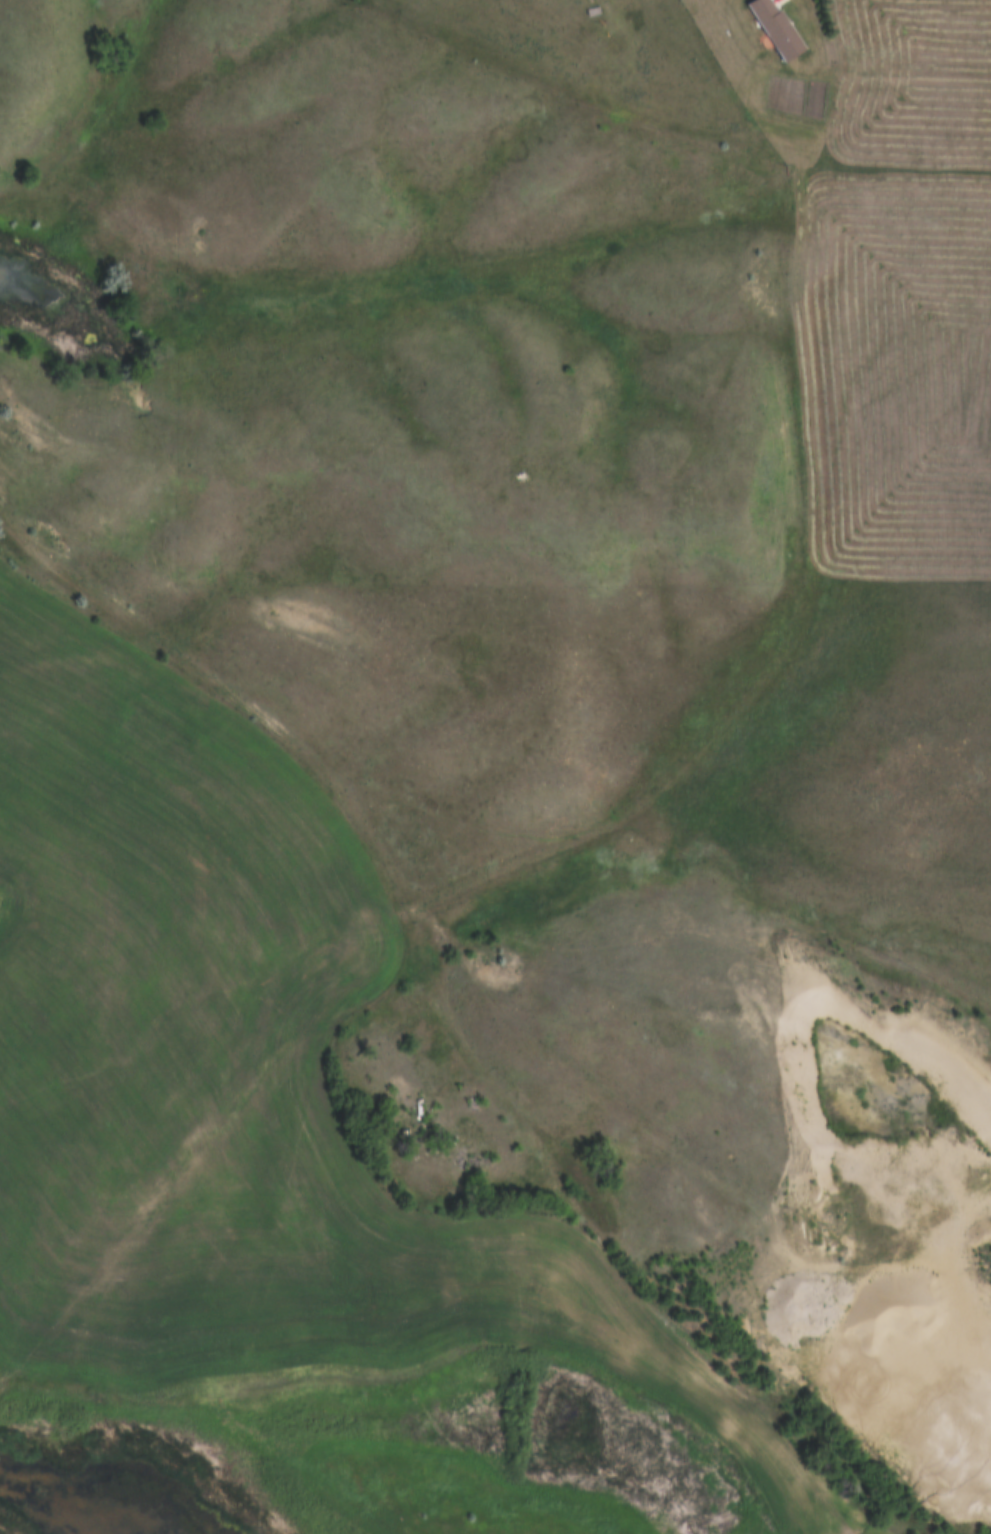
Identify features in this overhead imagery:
building: (773, 29)
road: (549, 850)
road: (406, 888)
road: (896, 1314)

